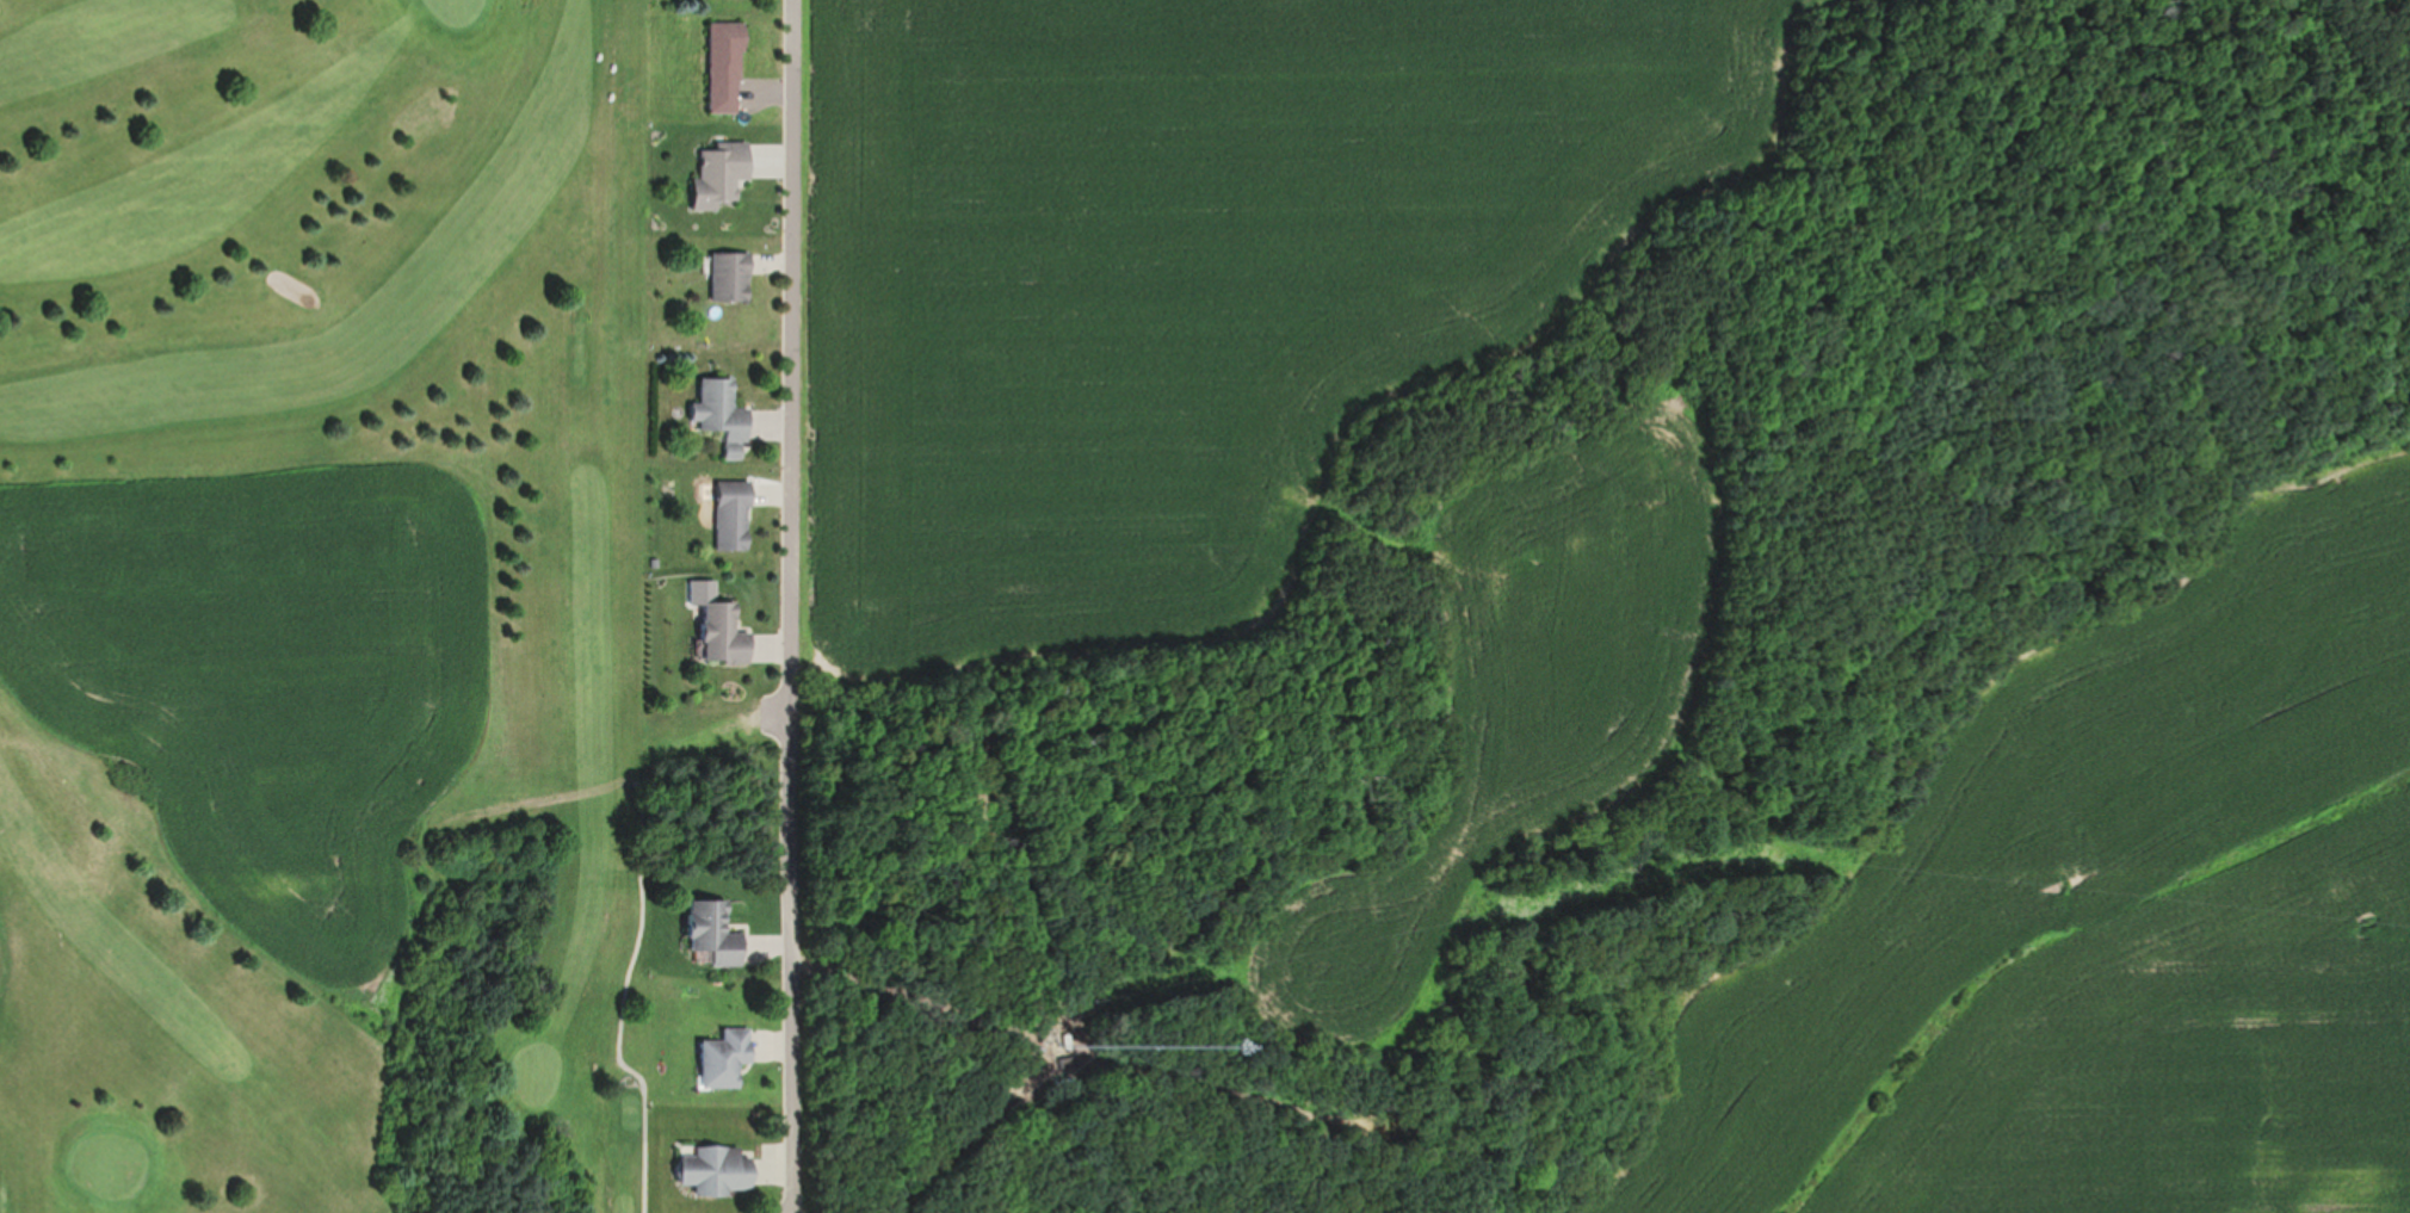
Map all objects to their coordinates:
building: (728, 67)
building: (723, 174)
building: (733, 277)
building: (725, 415)
building: (735, 515)
road: (793, 606)
park: (328, 607)
building: (728, 635)
building: (717, 934)
road: (618, 1035)
building: (727, 1058)
building: (718, 1171)

